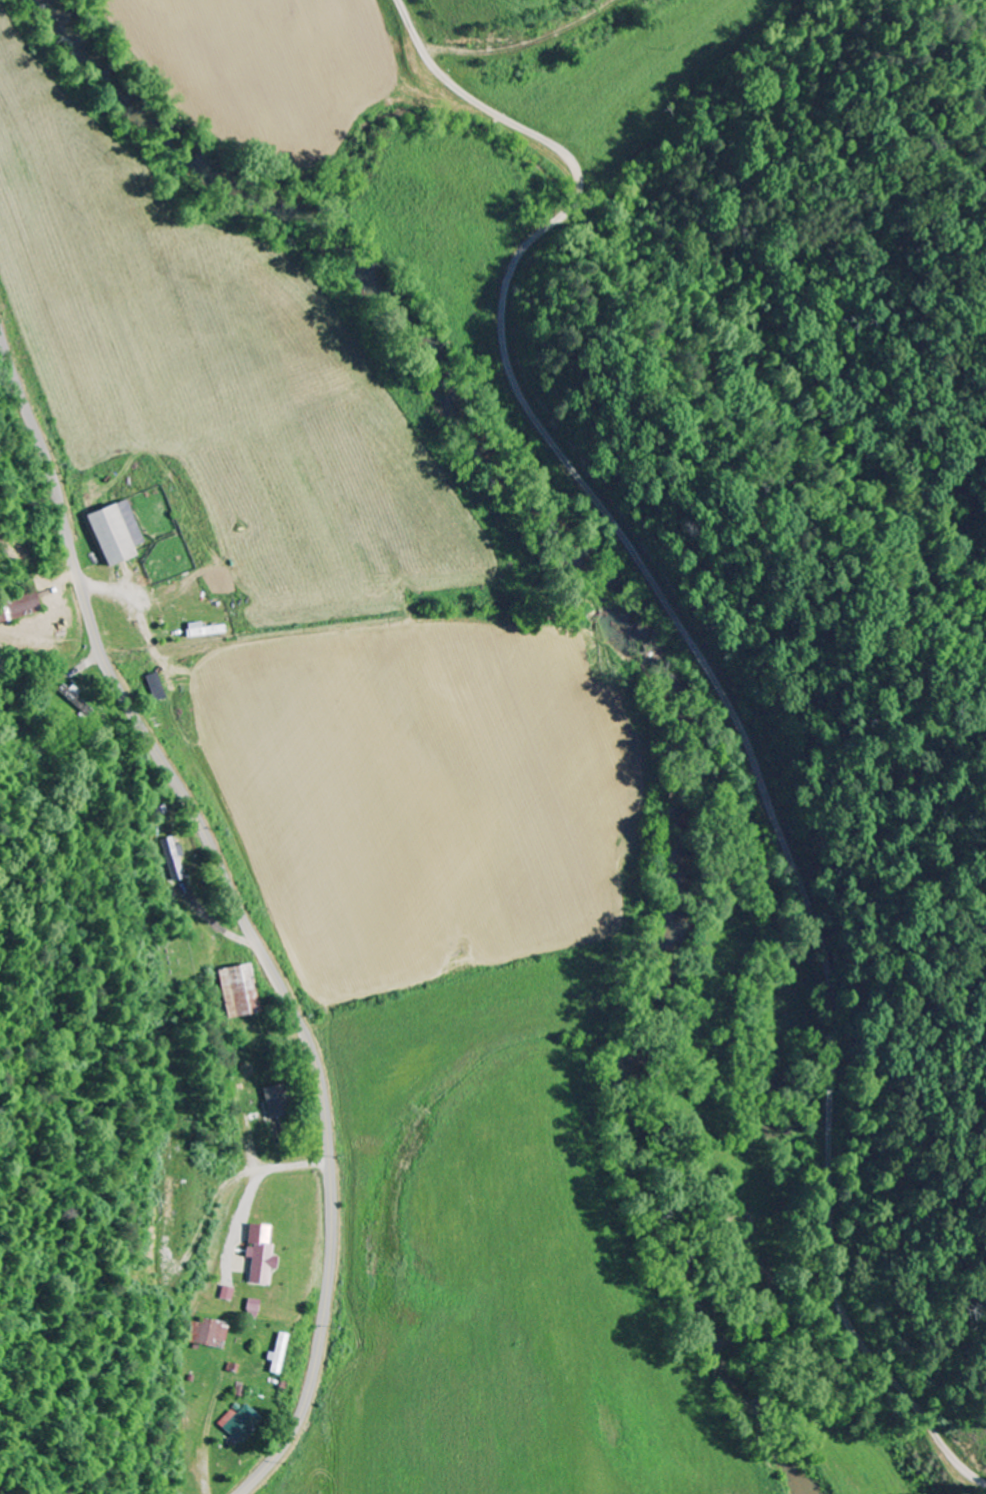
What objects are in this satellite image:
building: (115, 532)
building: (18, 607)
building: (203, 630)
river: (640, 659)
road: (706, 697)
building: (174, 859)
road: (240, 893)
road: (231, 933)
building: (239, 992)
building: (273, 1102)
building: (260, 1255)
building: (230, 1294)
building: (212, 1333)
building: (279, 1355)
building: (242, 1423)

